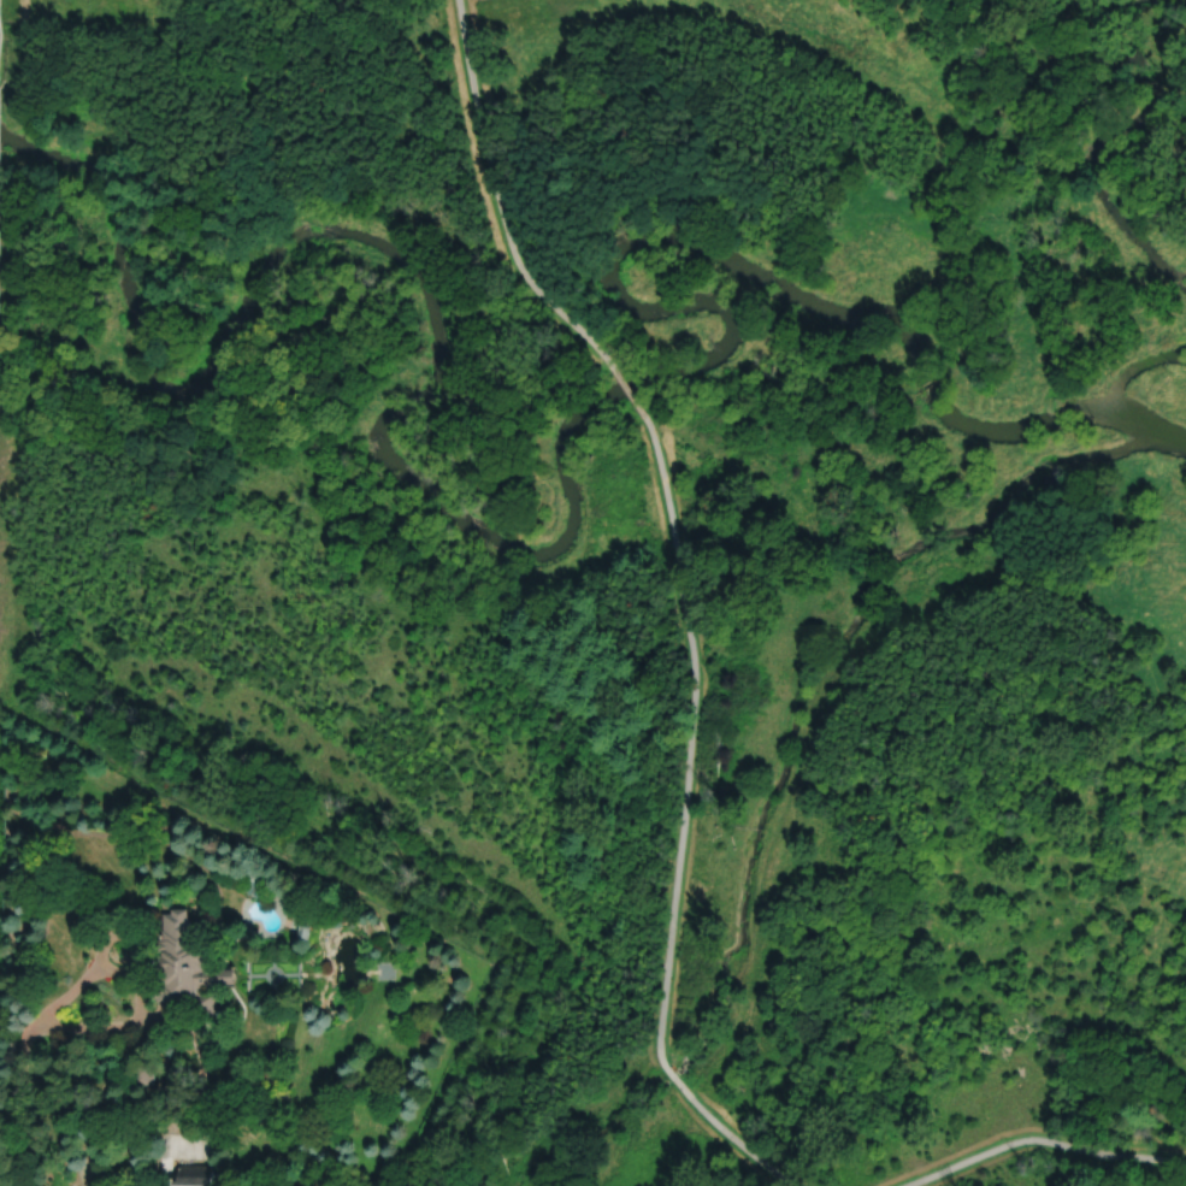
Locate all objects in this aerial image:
road: (497, 200)
road: (629, 391)
road: (337, 561)
road: (691, 730)
building: (305, 925)
road: (104, 943)
building: (185, 966)
road: (961, 972)
road: (138, 995)
road: (65, 996)
road: (19, 1050)
building: (143, 1074)
road: (669, 1075)
road: (742, 1099)
road: (201, 1101)
road: (778, 1127)
road: (1042, 1140)
road: (739, 1144)
road: (1056, 1164)
road: (1119, 1172)
building: (194, 1175)

